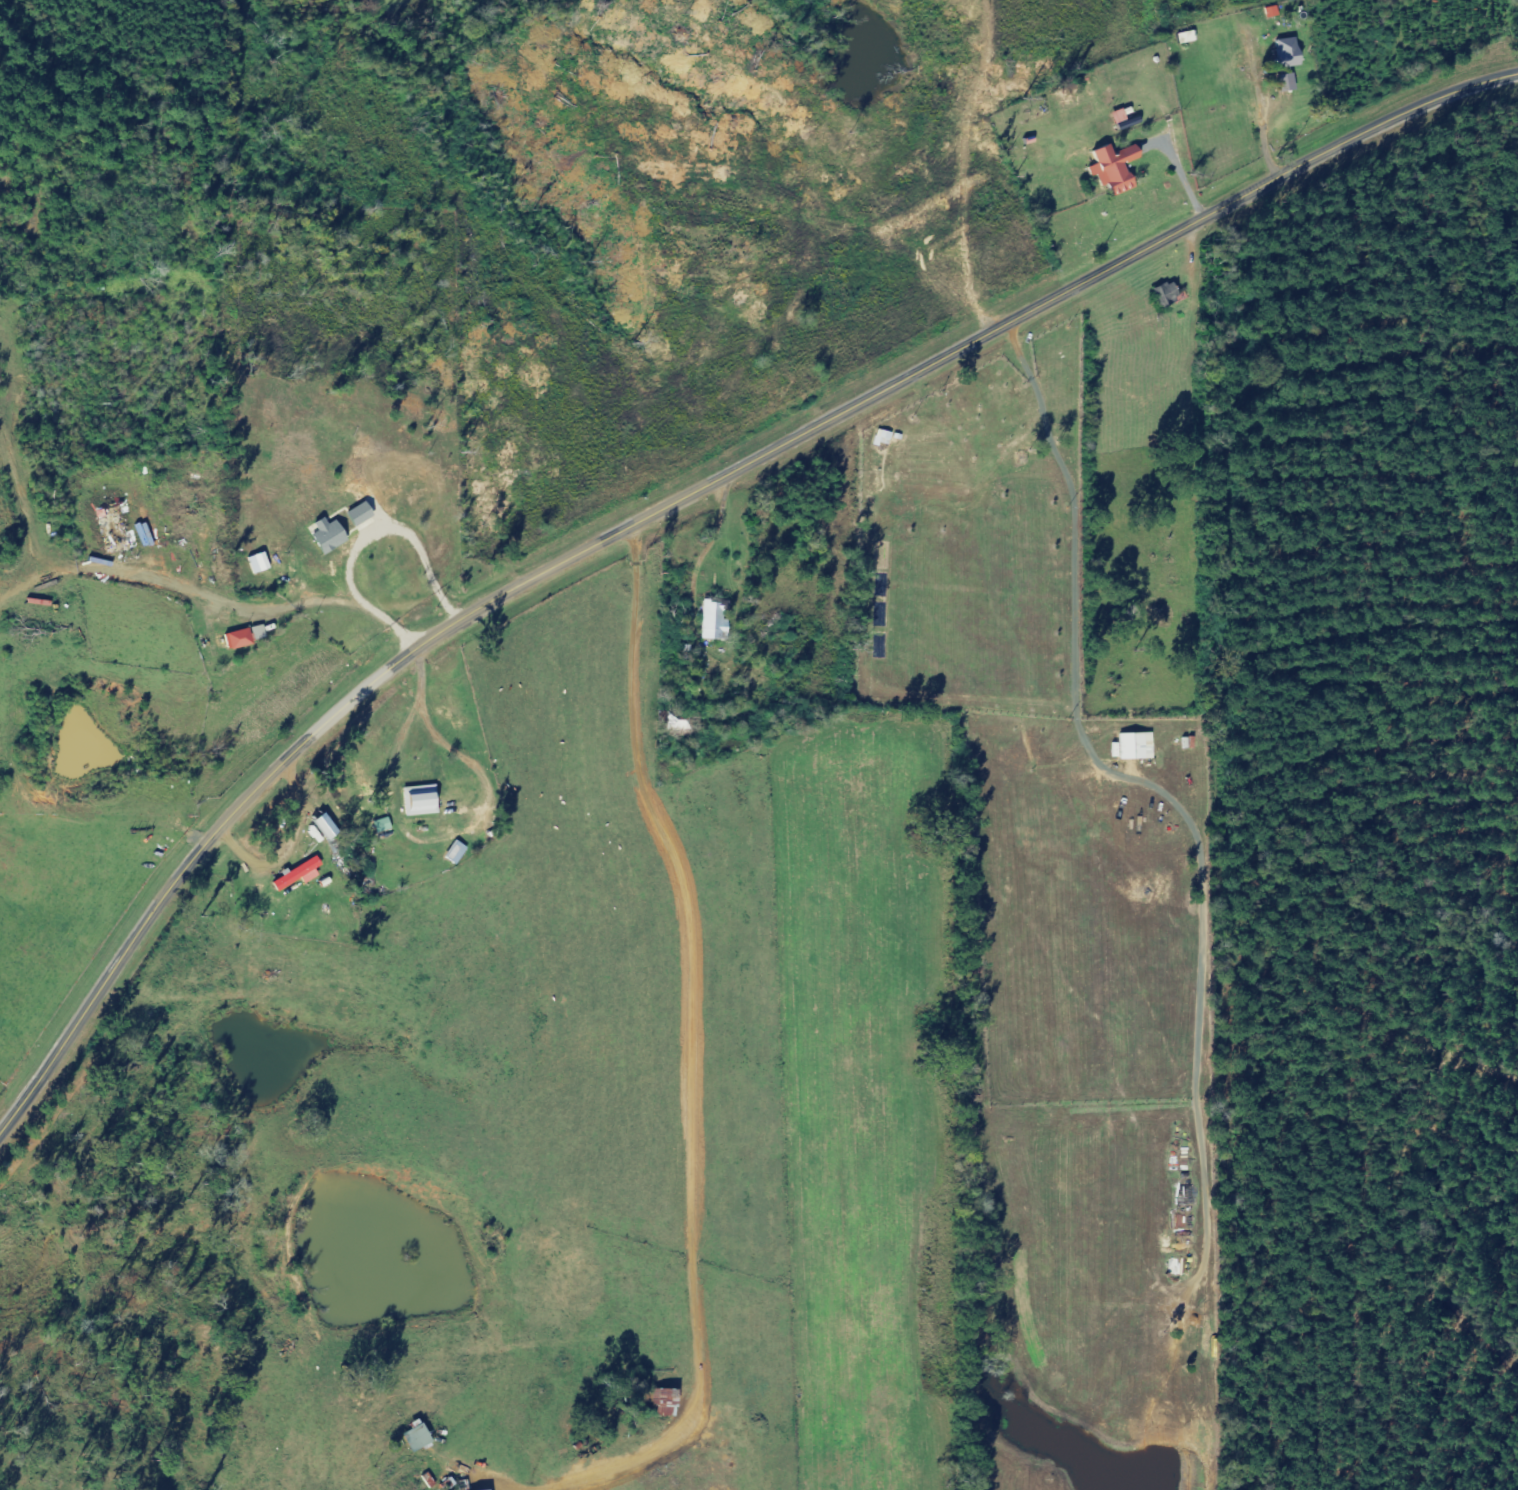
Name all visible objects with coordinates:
building: (1275, 13)
road: (1242, 17)
road: (1399, 52)
building: (1290, 55)
building: (1289, 83)
building: (1118, 169)
building: (1170, 296)
road: (678, 501)
building: (332, 536)
building: (717, 623)
building: (241, 640)
building: (1139, 747)
building: (300, 875)
building: (420, 1439)

